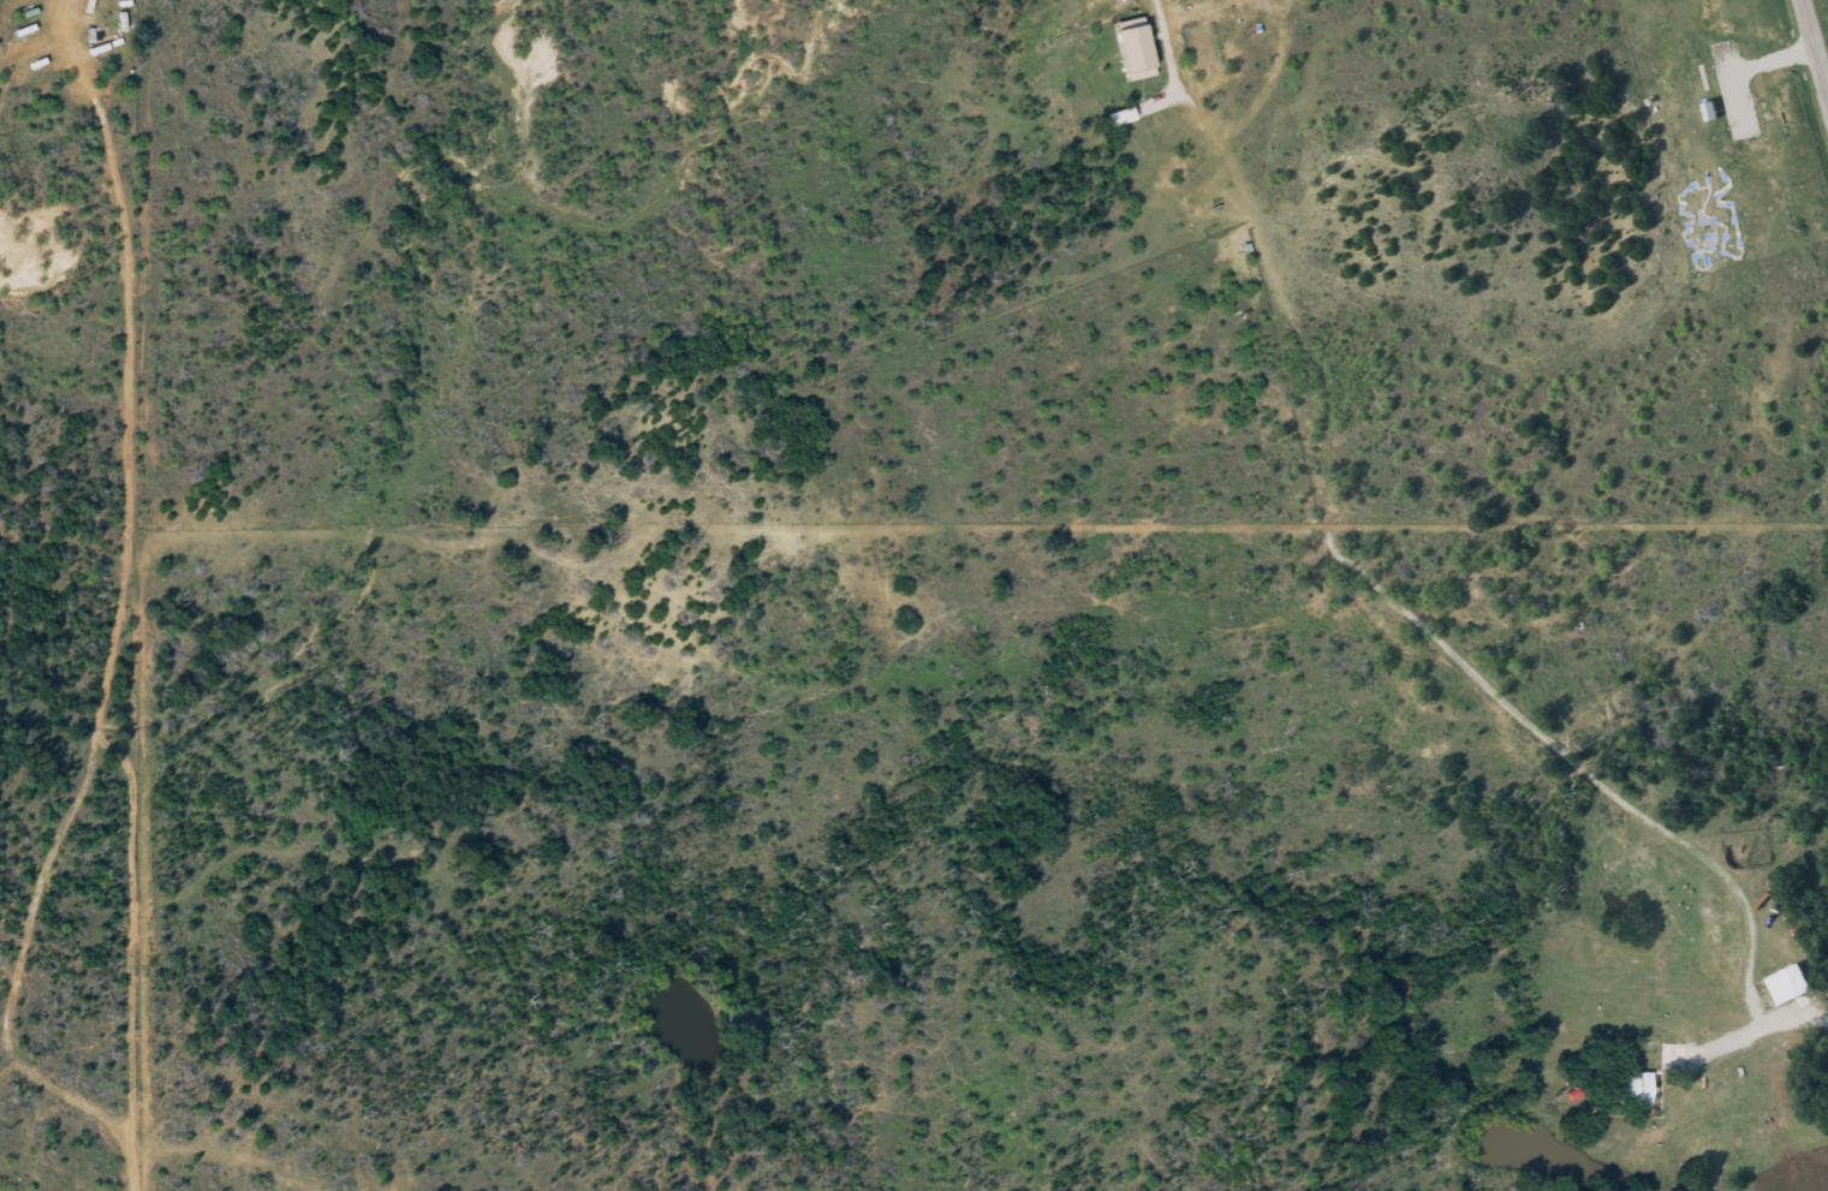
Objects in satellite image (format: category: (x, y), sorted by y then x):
road: (1823, 13)
building: (1787, 989)
building: (1632, 1094)

